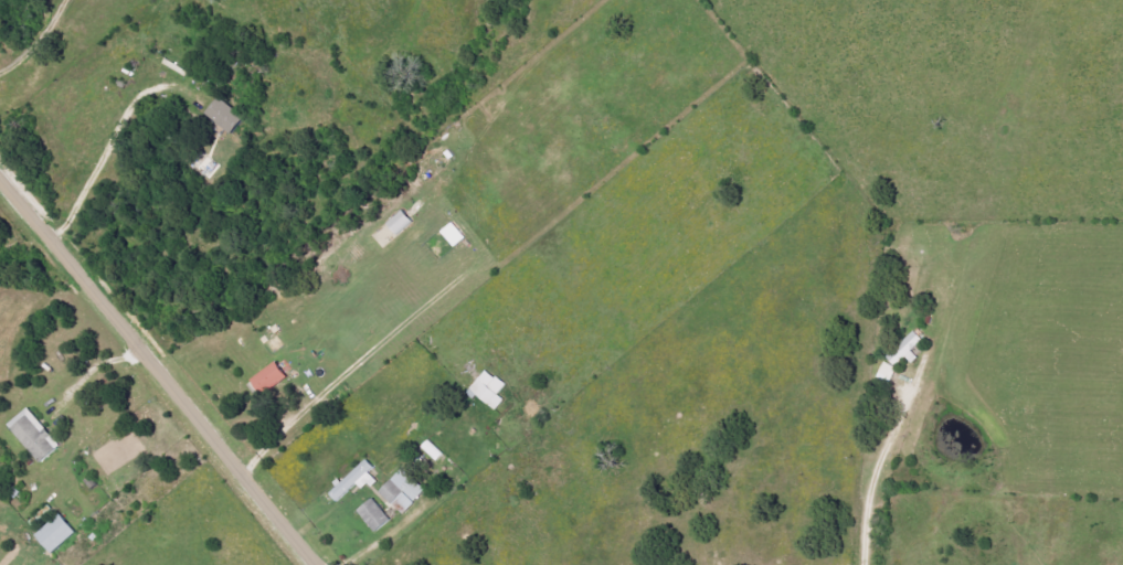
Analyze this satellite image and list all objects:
building: (229, 116)
building: (403, 223)
building: (457, 235)
building: (903, 351)
road: (157, 373)
building: (274, 379)
building: (491, 390)
building: (38, 436)
building: (419, 466)
building: (358, 479)
building: (405, 490)
building: (377, 515)
building: (60, 534)

